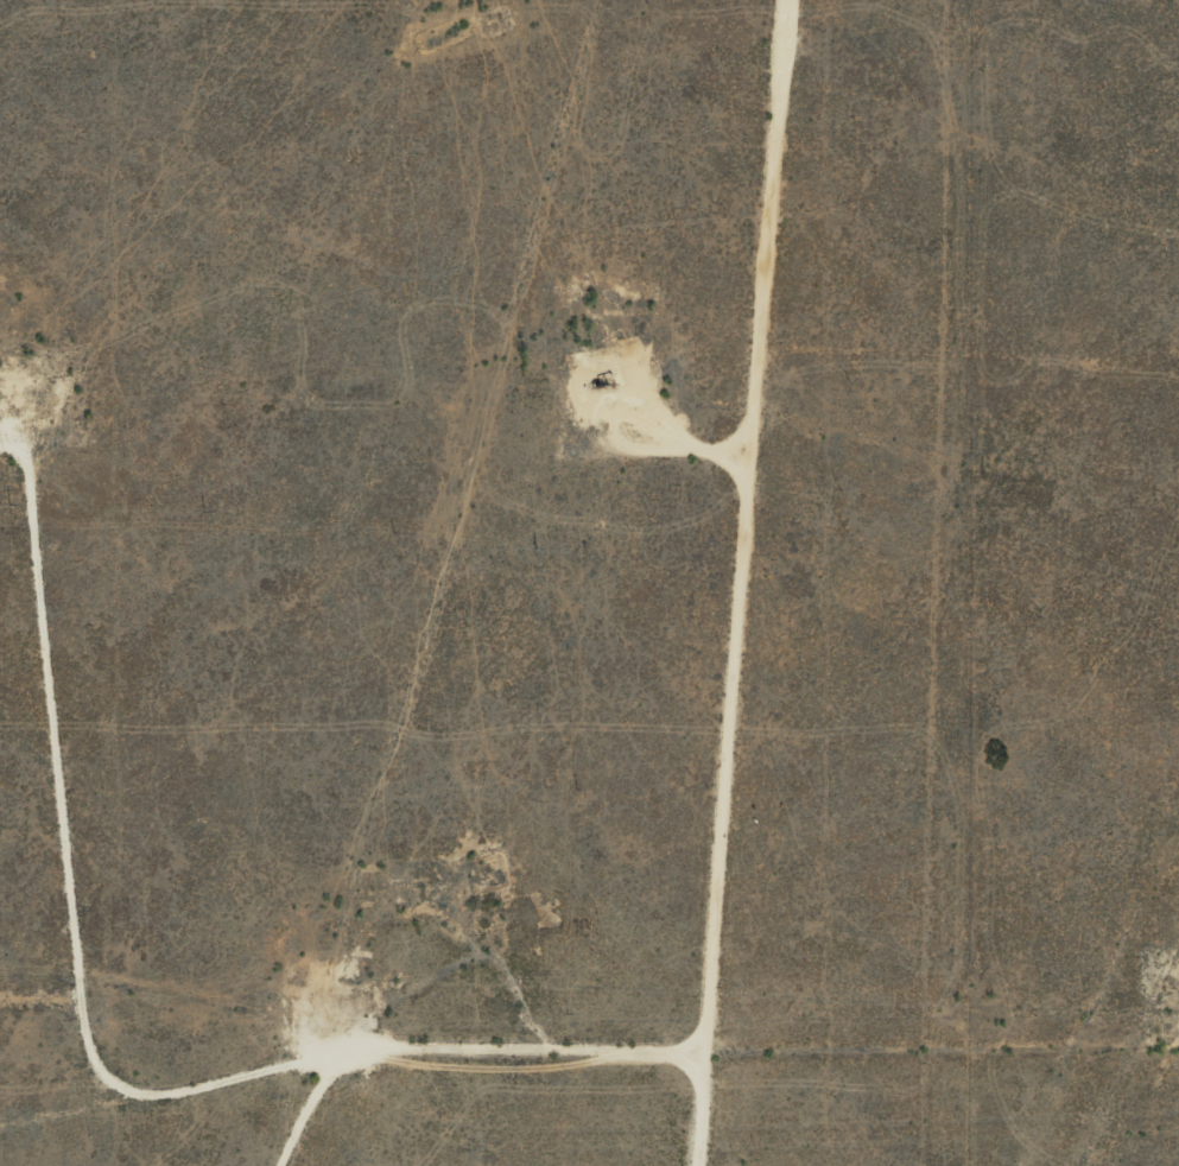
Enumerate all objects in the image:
road: (763, 583)
road: (112, 1091)
road: (302, 1126)

